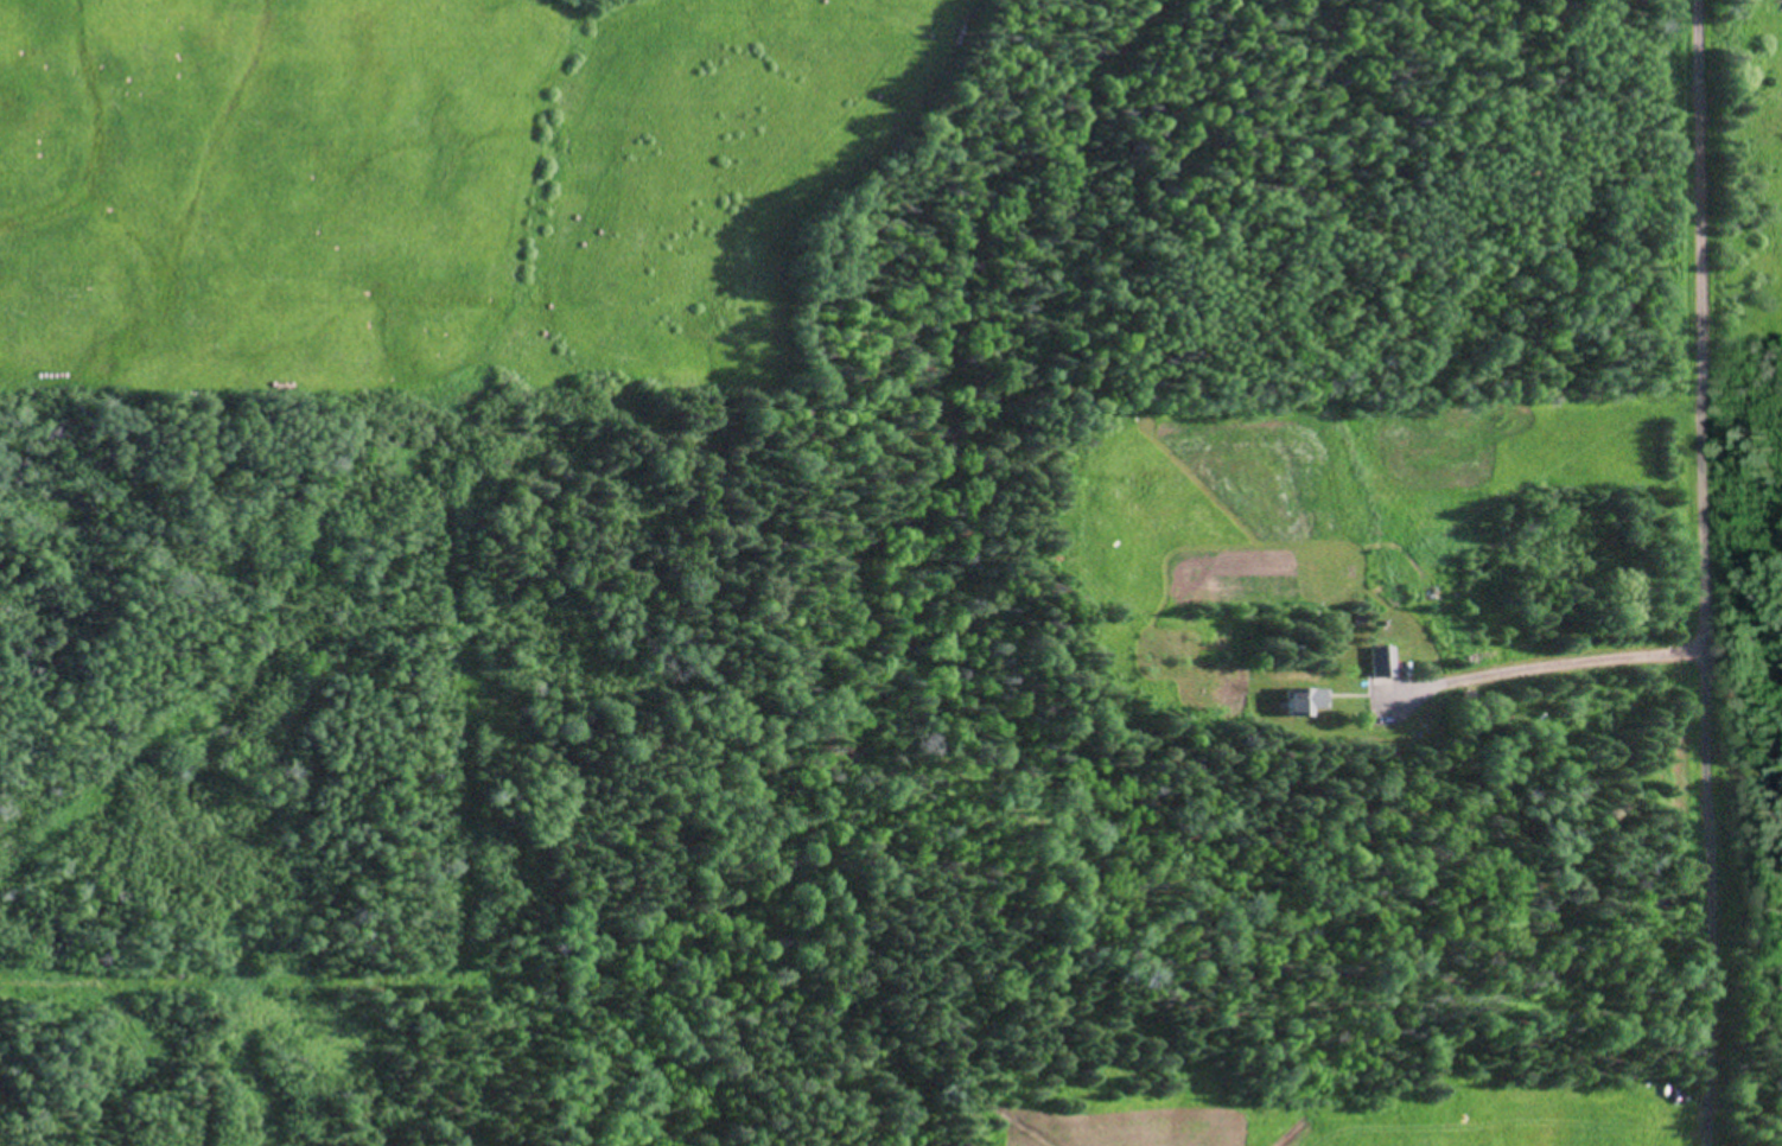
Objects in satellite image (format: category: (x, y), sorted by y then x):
road: (1712, 572)
building: (1377, 662)
building: (1299, 701)

